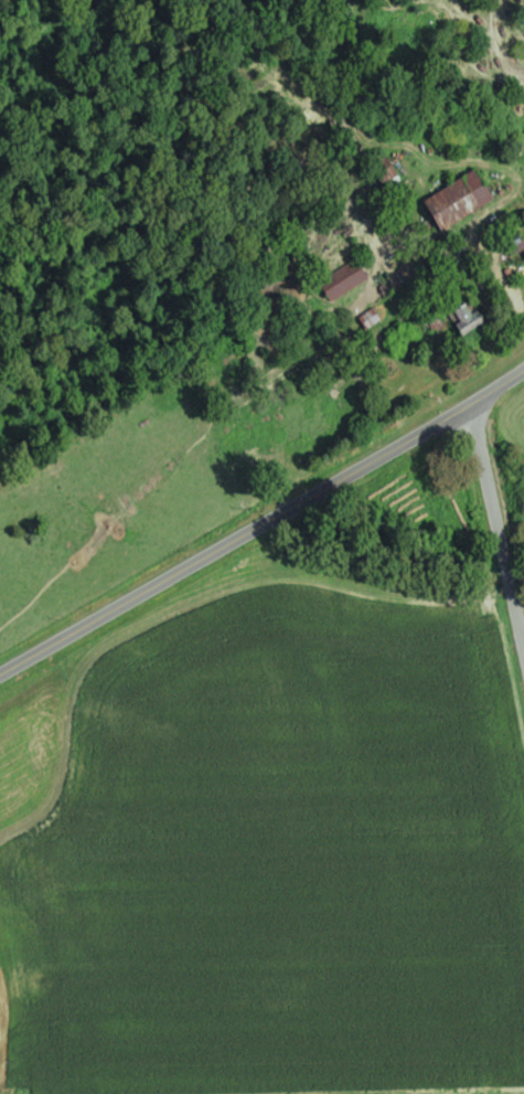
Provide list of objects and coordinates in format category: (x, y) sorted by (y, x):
building: (458, 198)
building: (515, 249)
road: (498, 273)
building: (342, 278)
building: (466, 315)
road: (261, 523)
road: (496, 537)

